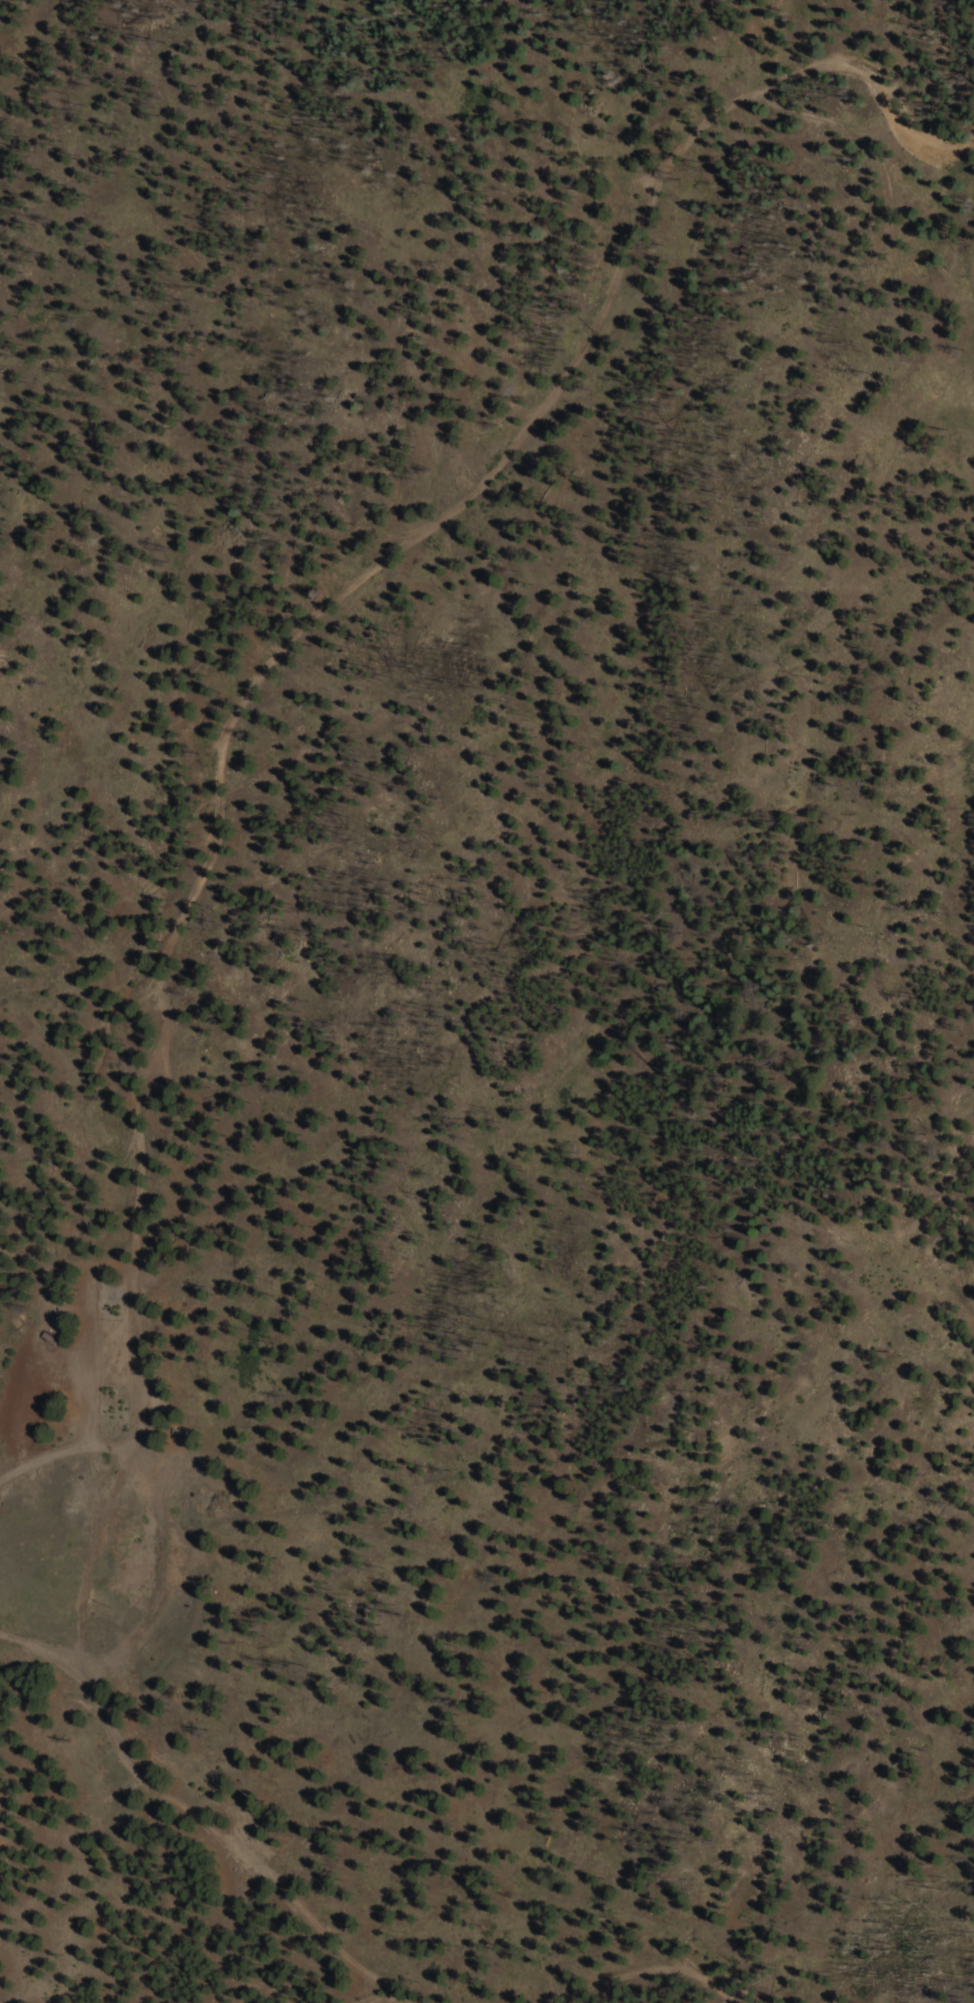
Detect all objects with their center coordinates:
road: (205, 1820)
road: (653, 1974)

